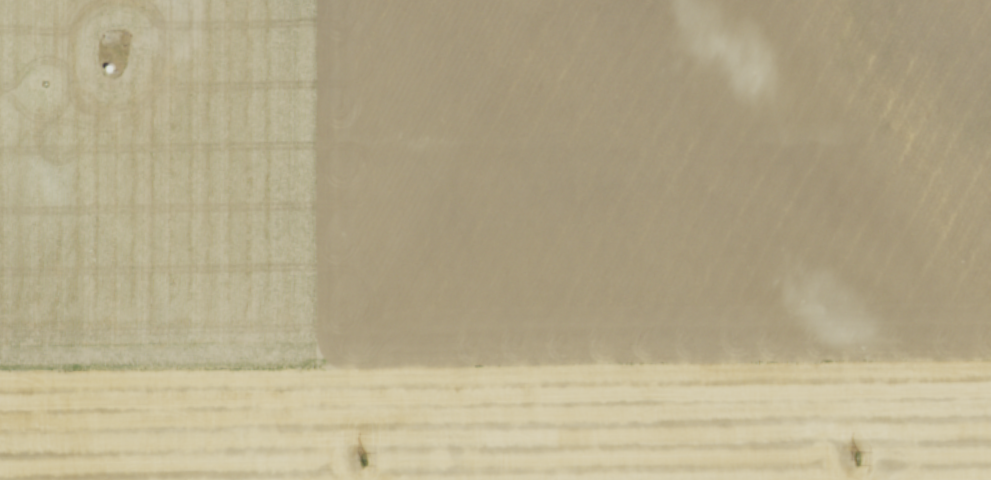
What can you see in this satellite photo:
crop: (495, 240)
power tower: (360, 455)
power tower: (857, 455)

